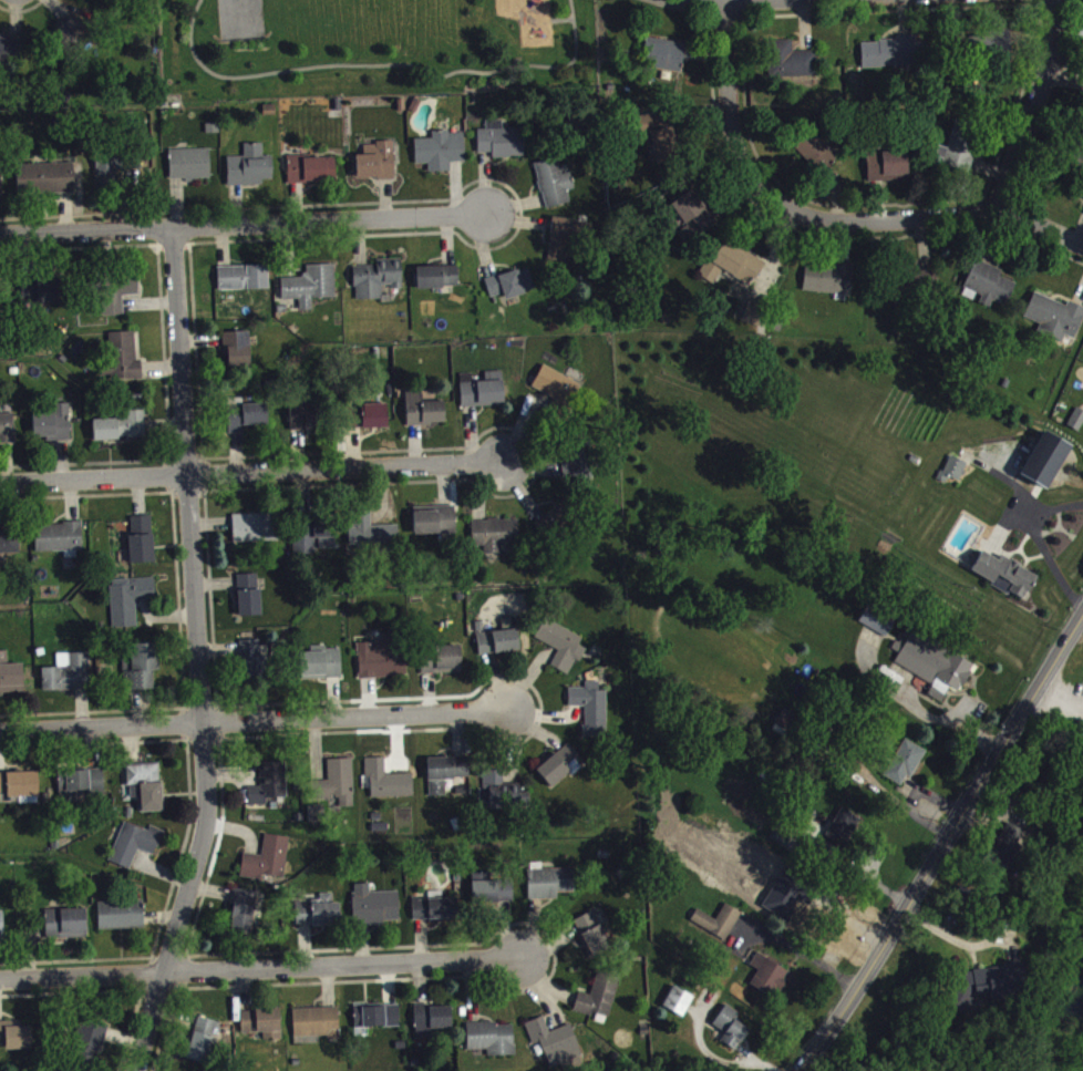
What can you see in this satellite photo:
building: (96, 1)
road: (790, 6)
building: (71, 39)
park: (373, 48)
building: (9, 56)
building: (890, 59)
building: (664, 62)
road: (385, 63)
building: (792, 66)
road: (725, 106)
road: (1027, 106)
building: (661, 140)
building: (502, 146)
building: (963, 155)
building: (441, 156)
building: (816, 158)
building: (378, 168)
building: (192, 169)
building: (889, 172)
building: (251, 173)
building: (313, 175)
building: (1, 183)
building: (47, 185)
building: (555, 188)
building: (1082, 202)
road: (922, 220)
building: (692, 223)
road: (243, 230)
building: (563, 246)
building: (739, 269)
building: (439, 282)
building: (244, 284)
building: (378, 285)
building: (829, 285)
building: (512, 290)
building: (991, 290)
building: (311, 291)
building: (41, 298)
building: (117, 299)
building: (1055, 323)
building: (239, 356)
building: (125, 362)
building: (557, 392)
building: (484, 397)
building: (424, 415)
building: (246, 421)
building: (303, 422)
building: (371, 423)
building: (54, 430)
building: (8, 433)
building: (122, 433)
building: (579, 466)
building: (1046, 466)
road: (252, 475)
building: (955, 476)
building: (559, 525)
building: (435, 526)
building: (255, 534)
building: (373, 538)
building: (495, 540)
building: (314, 542)
building: (60, 545)
building: (143, 545)
building: (9, 548)
road: (1043, 550)
building: (1005, 580)
building: (250, 601)
building: (130, 606)
building: (878, 627)
building: (498, 648)
building: (563, 651)
road: (199, 657)
building: (383, 663)
building: (442, 666)
building: (254, 667)
building: (322, 669)
building: (934, 670)
building: (142, 672)
building: (69, 679)
building: (11, 681)
building: (592, 714)
road: (252, 724)
building: (787, 729)
building: (906, 769)
building: (560, 772)
building: (446, 779)
building: (389, 787)
building: (270, 790)
building: (82, 791)
building: (338, 791)
building: (21, 792)
building: (146, 792)
building: (502, 797)
building: (843, 836)
road: (943, 844)
building: (136, 851)
building: (1009, 856)
building: (268, 865)
building: (550, 888)
building: (493, 896)
building: (375, 913)
building: (436, 916)
building: (244, 917)
building: (319, 918)
building: (122, 921)
building: (720, 927)
building: (68, 929)
building: (2, 933)
building: (592, 940)
road: (806, 955)
road: (259, 972)
building: (770, 981)
building: (994, 988)
building: (600, 1002)
building: (680, 1008)
building: (378, 1022)
building: (432, 1026)
building: (317, 1029)
building: (262, 1030)
building: (732, 1033)
building: (16, 1041)
building: (493, 1044)
building: (204, 1047)
building: (91, 1049)
building: (557, 1049)

